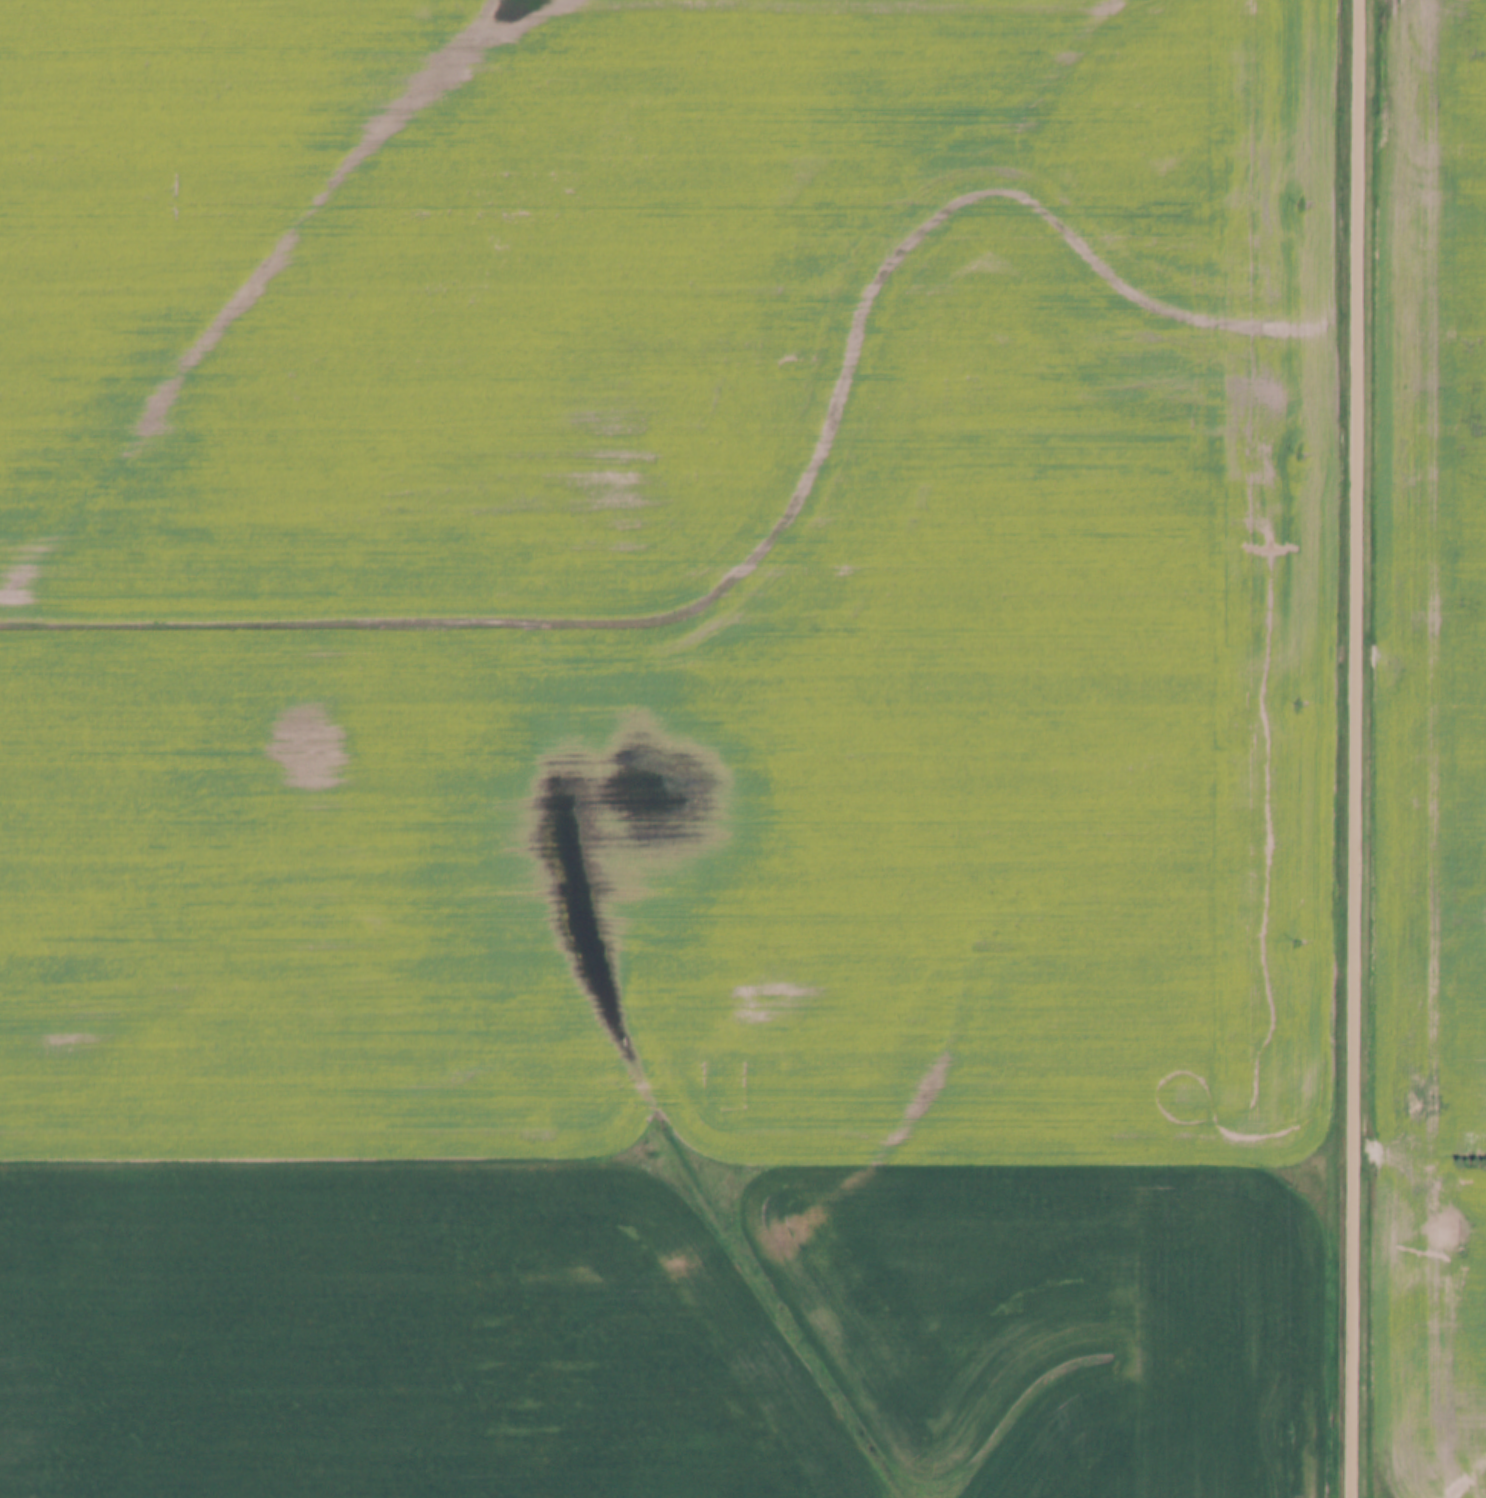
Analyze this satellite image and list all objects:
road: (1367, 749)

